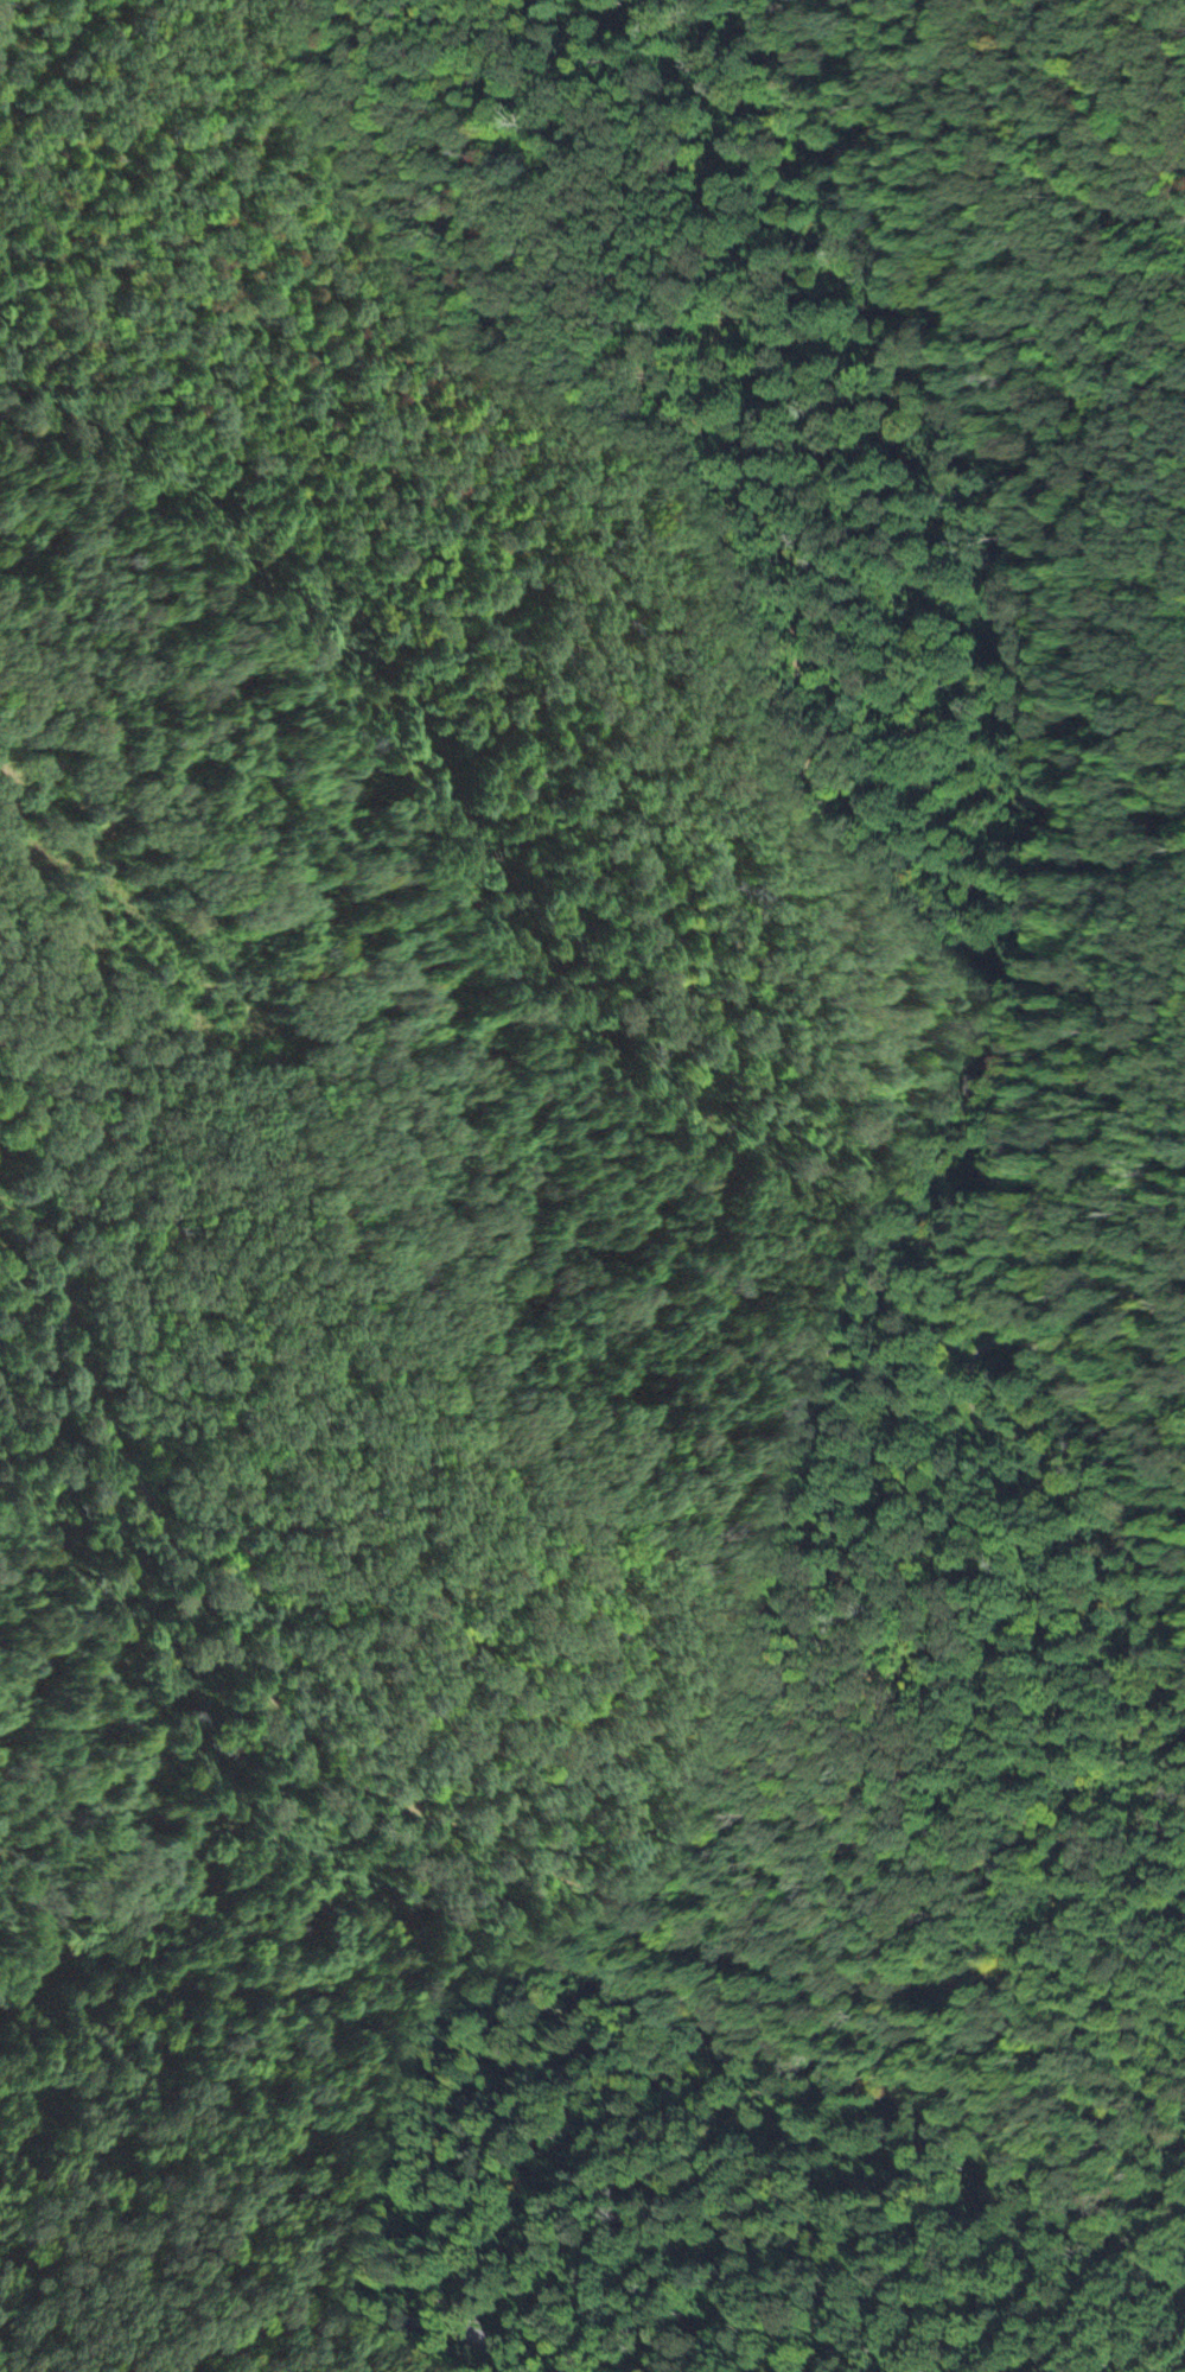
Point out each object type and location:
road: (320, 2321)

